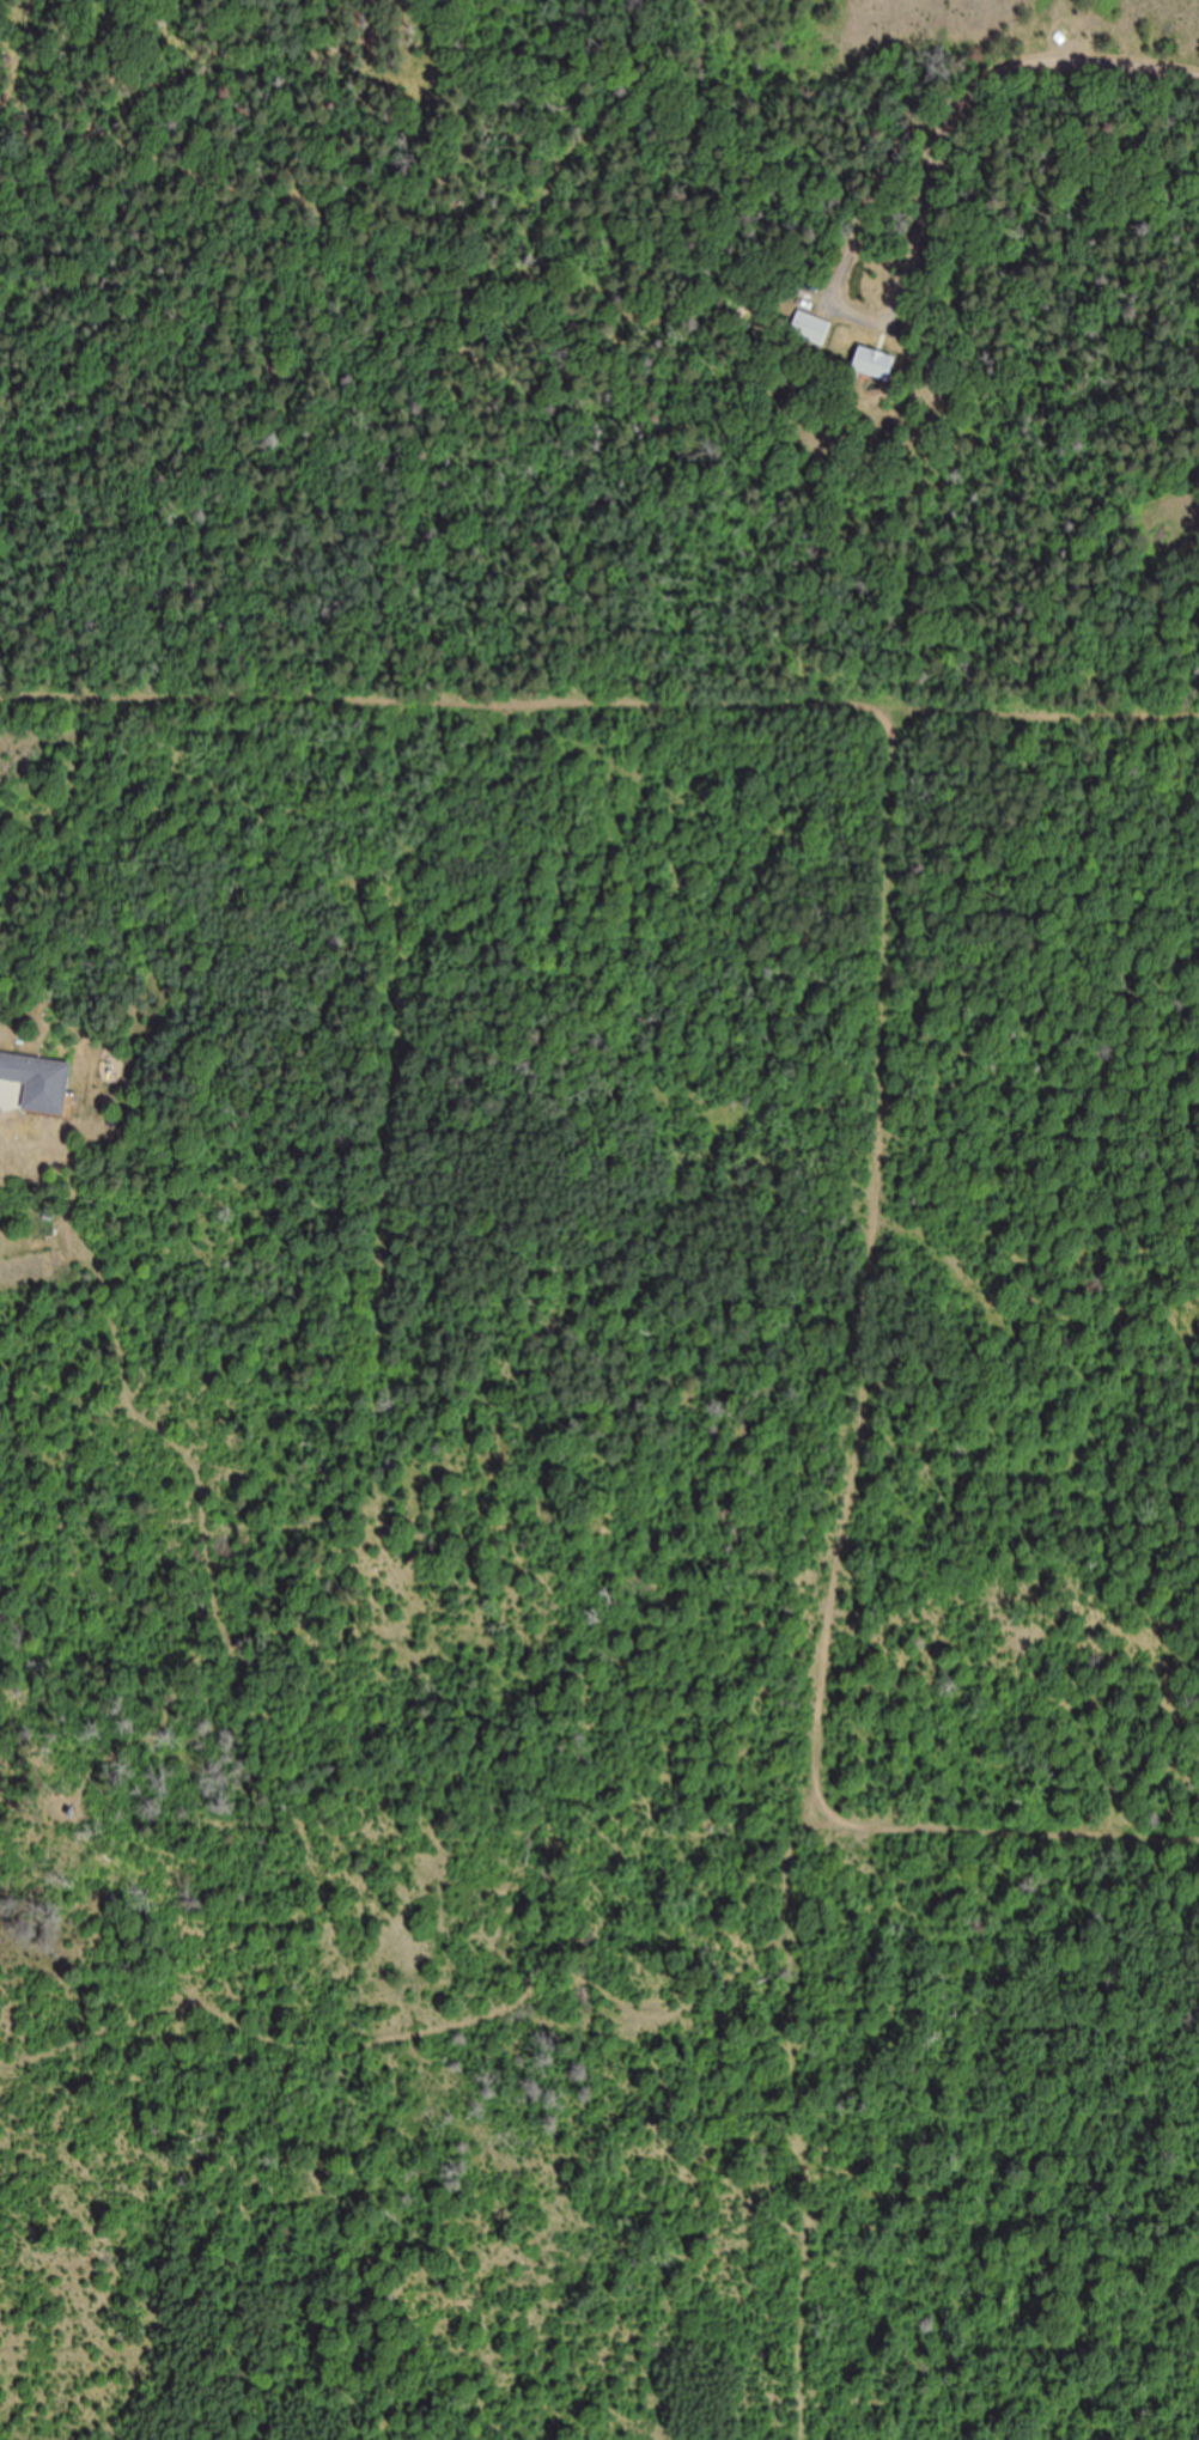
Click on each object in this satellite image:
road: (1030, 303)
building: (812, 328)
building: (878, 363)
road: (1134, 415)
road: (599, 712)
building: (41, 1082)
road: (826, 1455)

